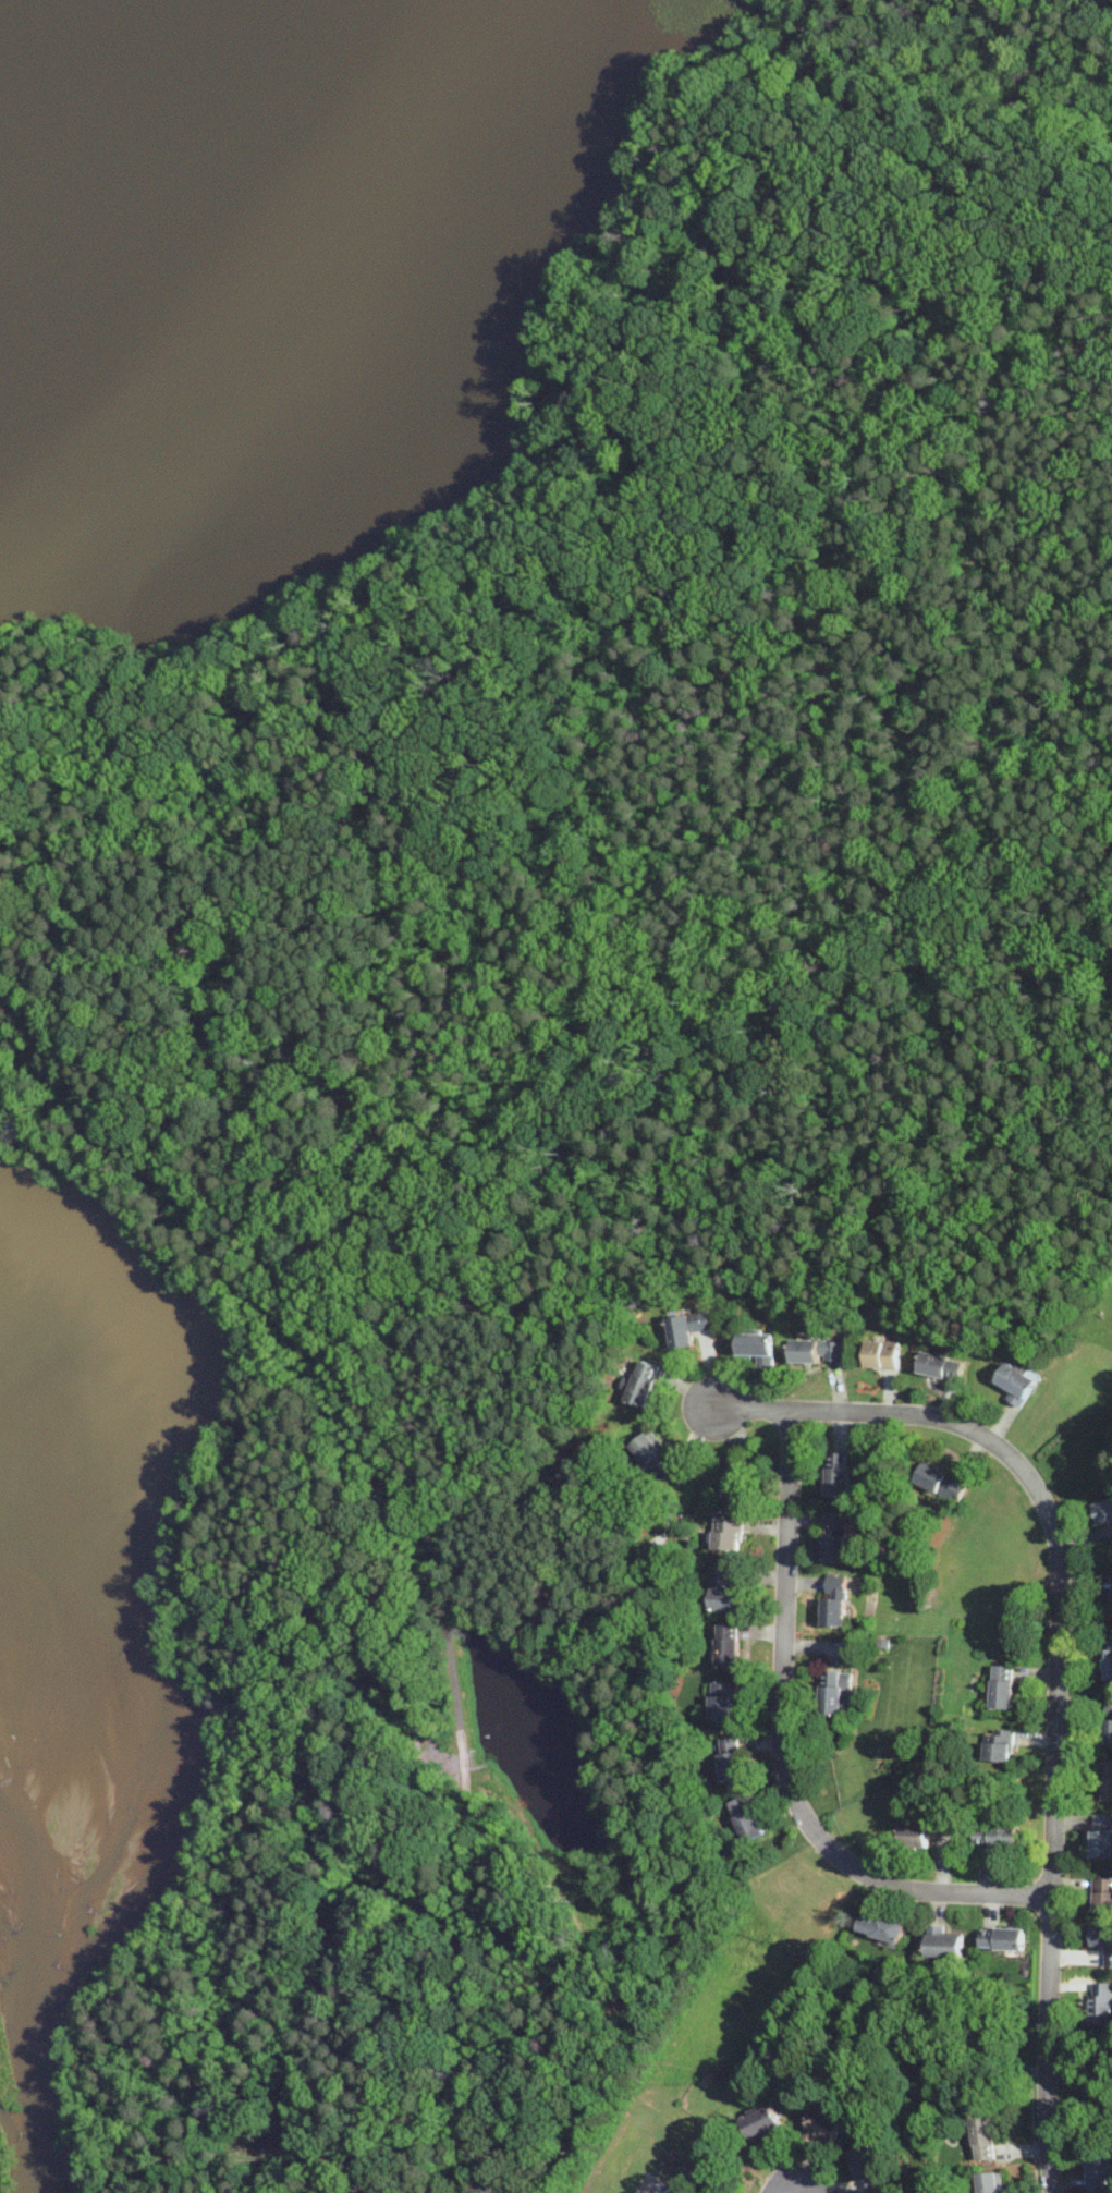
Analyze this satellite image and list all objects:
road: (592, 571)
road: (1097, 706)
park: (635, 777)
road: (1104, 888)
road: (427, 968)
road: (54, 1060)
road: (111, 1122)
building: (686, 1329)
building: (756, 1348)
building: (816, 1352)
building: (881, 1356)
building: (941, 1367)
building: (641, 1385)
building: (1014, 1385)
building: (652, 1457)
building: (836, 1474)
building: (940, 1482)
building: (735, 1483)
building: (1103, 1511)
building: (726, 1534)
building: (834, 1537)
building: (723, 1592)
building: (1111, 1594)
building: (833, 1600)
road: (441, 1604)
road: (355, 1644)
building: (726, 1646)
road: (1054, 1661)
building: (1108, 1662)
building: (1001, 1686)
building: (835, 1693)
building: (722, 1702)
building: (1107, 1725)
building: (998, 1746)
road: (780, 1754)
building: (730, 1759)
building: (1105, 1780)
building: (745, 1818)
building: (927, 1836)
building: (997, 1836)
building: (1102, 1836)
building: (1102, 1893)
building: (881, 1926)
building: (1003, 1939)
building: (1103, 1940)
building: (942, 1944)
building: (1100, 2003)
river: (40, 2013)
building: (762, 2123)
building: (823, 2124)
building: (985, 2139)
building: (868, 2168)
building: (1099, 2177)
building: (990, 2183)

